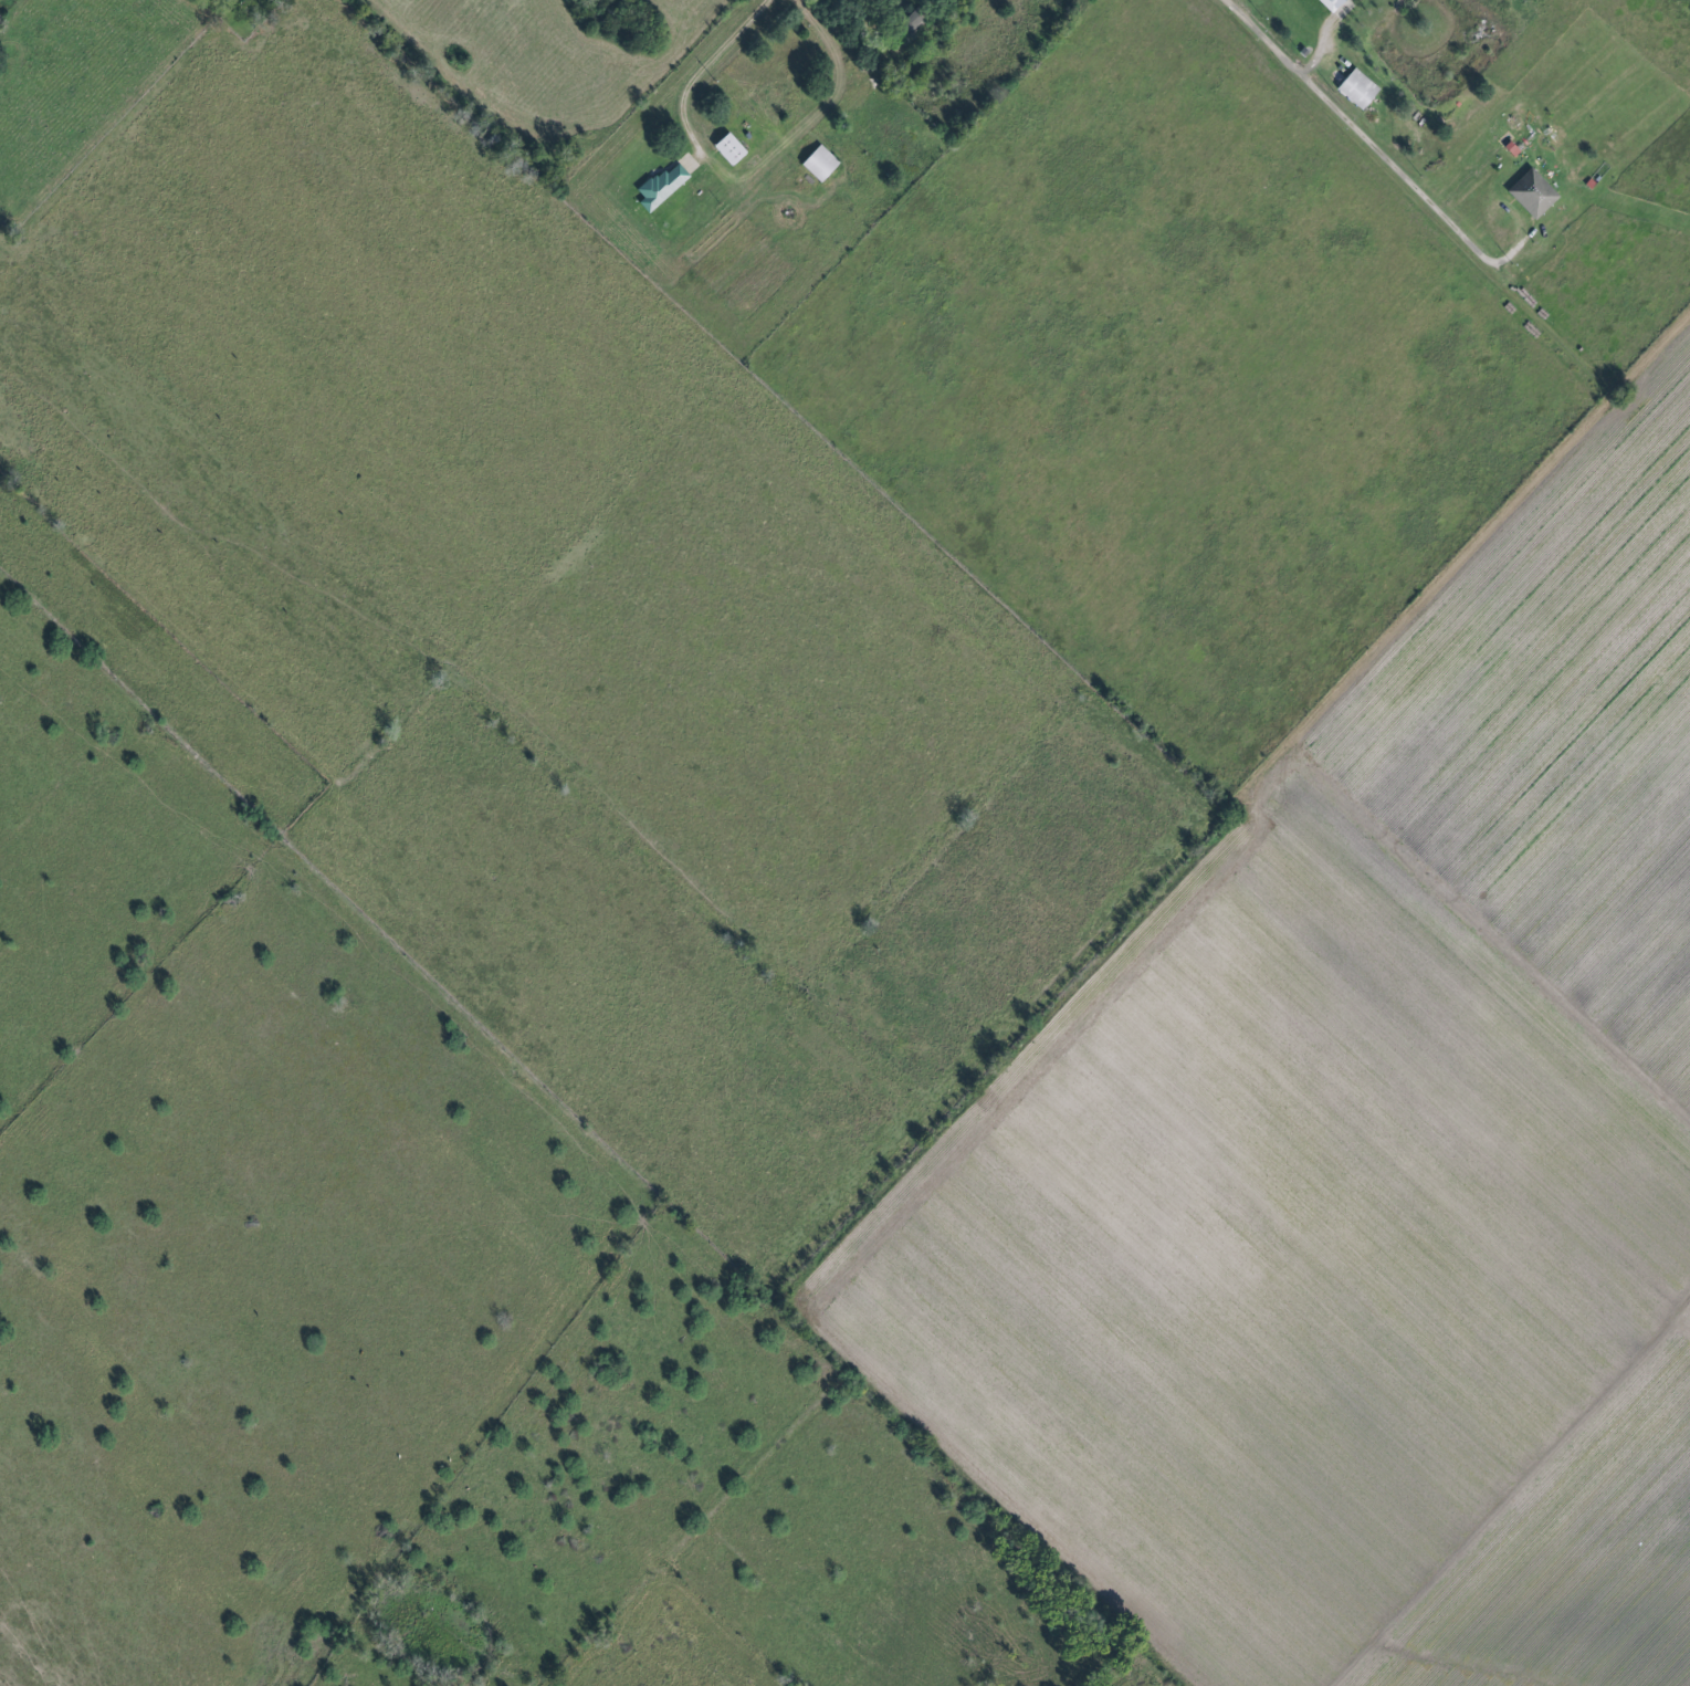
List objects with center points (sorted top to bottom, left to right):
building: (1326, 3)
building: (906, 23)
road: (701, 75)
building: (1355, 90)
road: (1361, 139)
building: (725, 150)
building: (816, 164)
building: (659, 187)
building: (1530, 195)

